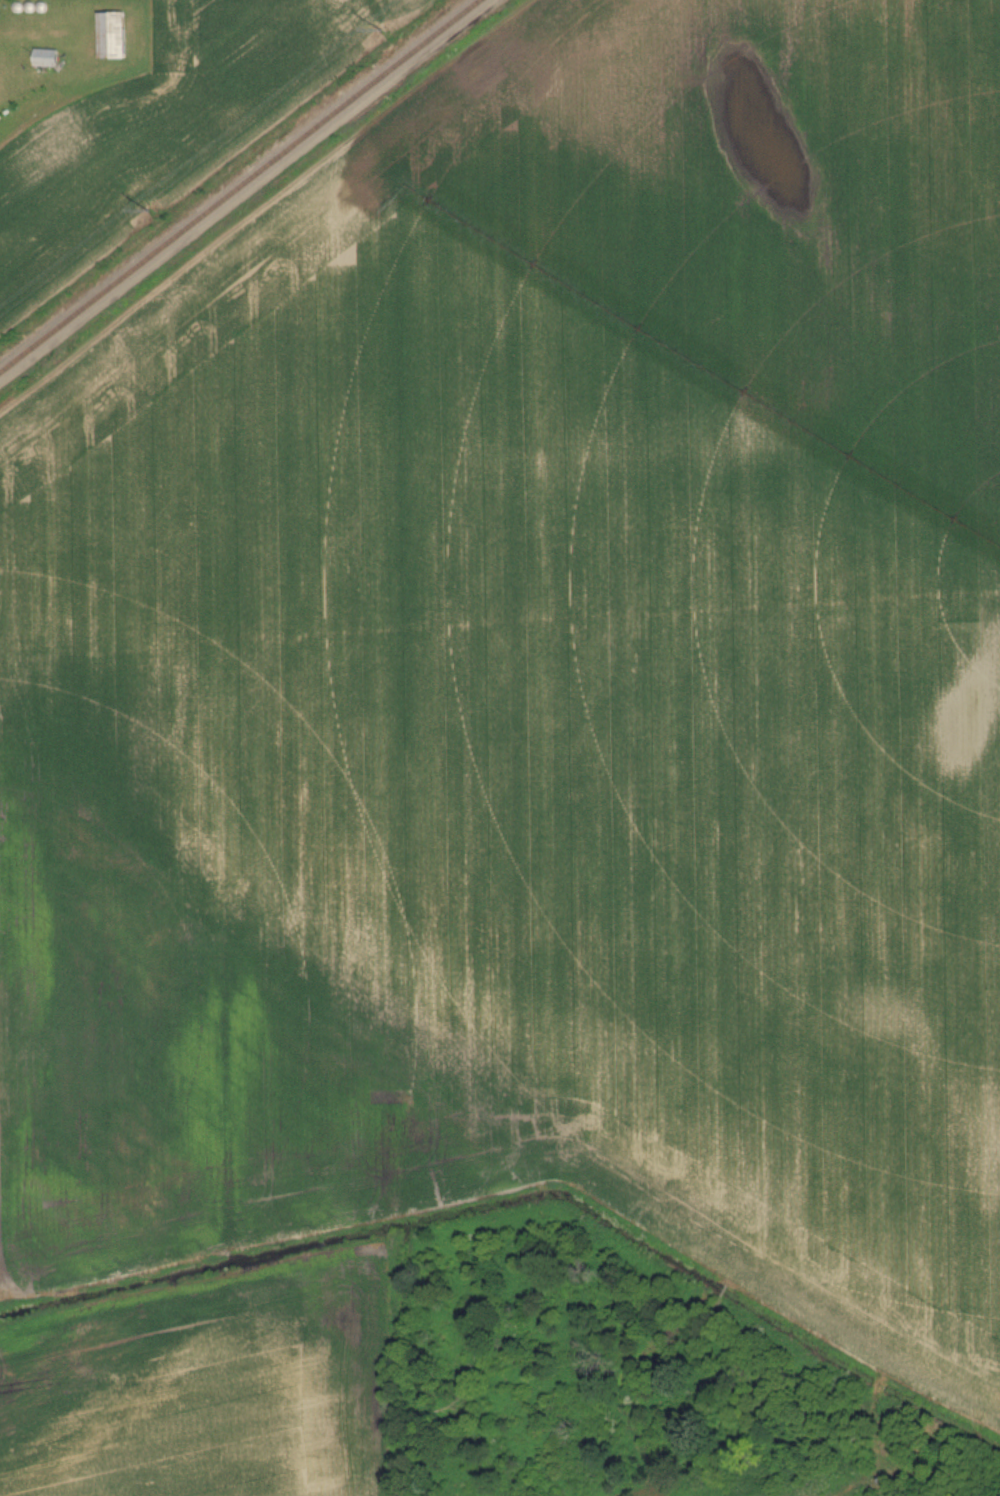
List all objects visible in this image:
railway: (440, 32)
building: (111, 36)
building: (45, 59)
crop: (164, 128)
railway: (199, 215)
crop: (539, 681)
crop: (212, 1389)

